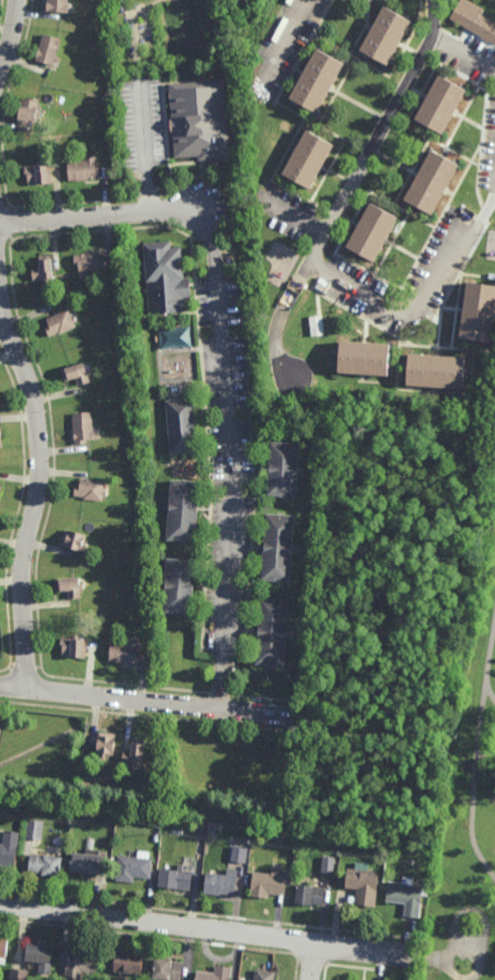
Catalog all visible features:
building: (55, 6)
building: (474, 19)
road: (8, 32)
building: (385, 34)
road: (283, 44)
road: (463, 52)
building: (46, 53)
building: (316, 79)
building: (441, 104)
building: (25, 113)
building: (197, 120)
road: (145, 156)
building: (307, 159)
building: (81, 170)
building: (36, 176)
building: (432, 182)
road: (348, 191)
road: (101, 216)
road: (291, 216)
building: (372, 233)
building: (90, 264)
building: (40, 271)
building: (163, 280)
road: (421, 301)
building: (475, 313)
building: (59, 325)
building: (364, 359)
building: (434, 373)
building: (74, 376)
building: (178, 428)
building: (81, 429)
building: (0, 443)
road: (226, 457)
building: (281, 468)
building: (0, 484)
road: (40, 484)
building: (0, 486)
building: (90, 492)
building: (181, 513)
building: (73, 543)
building: (276, 547)
building: (177, 587)
building: (68, 588)
building: (269, 633)
building: (72, 650)
building: (124, 655)
road: (486, 689)
road: (491, 693)
road: (146, 700)
road: (293, 723)
building: (103, 747)
building: (133, 756)
road: (378, 778)
road: (473, 813)
building: (34, 829)
building: (7, 850)
building: (239, 854)
building: (82, 864)
building: (328, 865)
building: (43, 867)
building: (132, 868)
building: (173, 881)
park: (458, 882)
building: (220, 885)
building: (267, 885)
building: (361, 886)
building: (308, 896)
building: (404, 897)
road: (478, 916)
road: (159, 923)
parking lot: (462, 947)
road: (362, 948)
building: (2, 951)
building: (39, 957)
road: (315, 961)
road: (434, 964)
building: (128, 965)
building: (78, 966)
building: (165, 971)
road: (327, 973)
building: (18, 974)
building: (214, 975)
building: (262, 976)
road: (463, 979)

